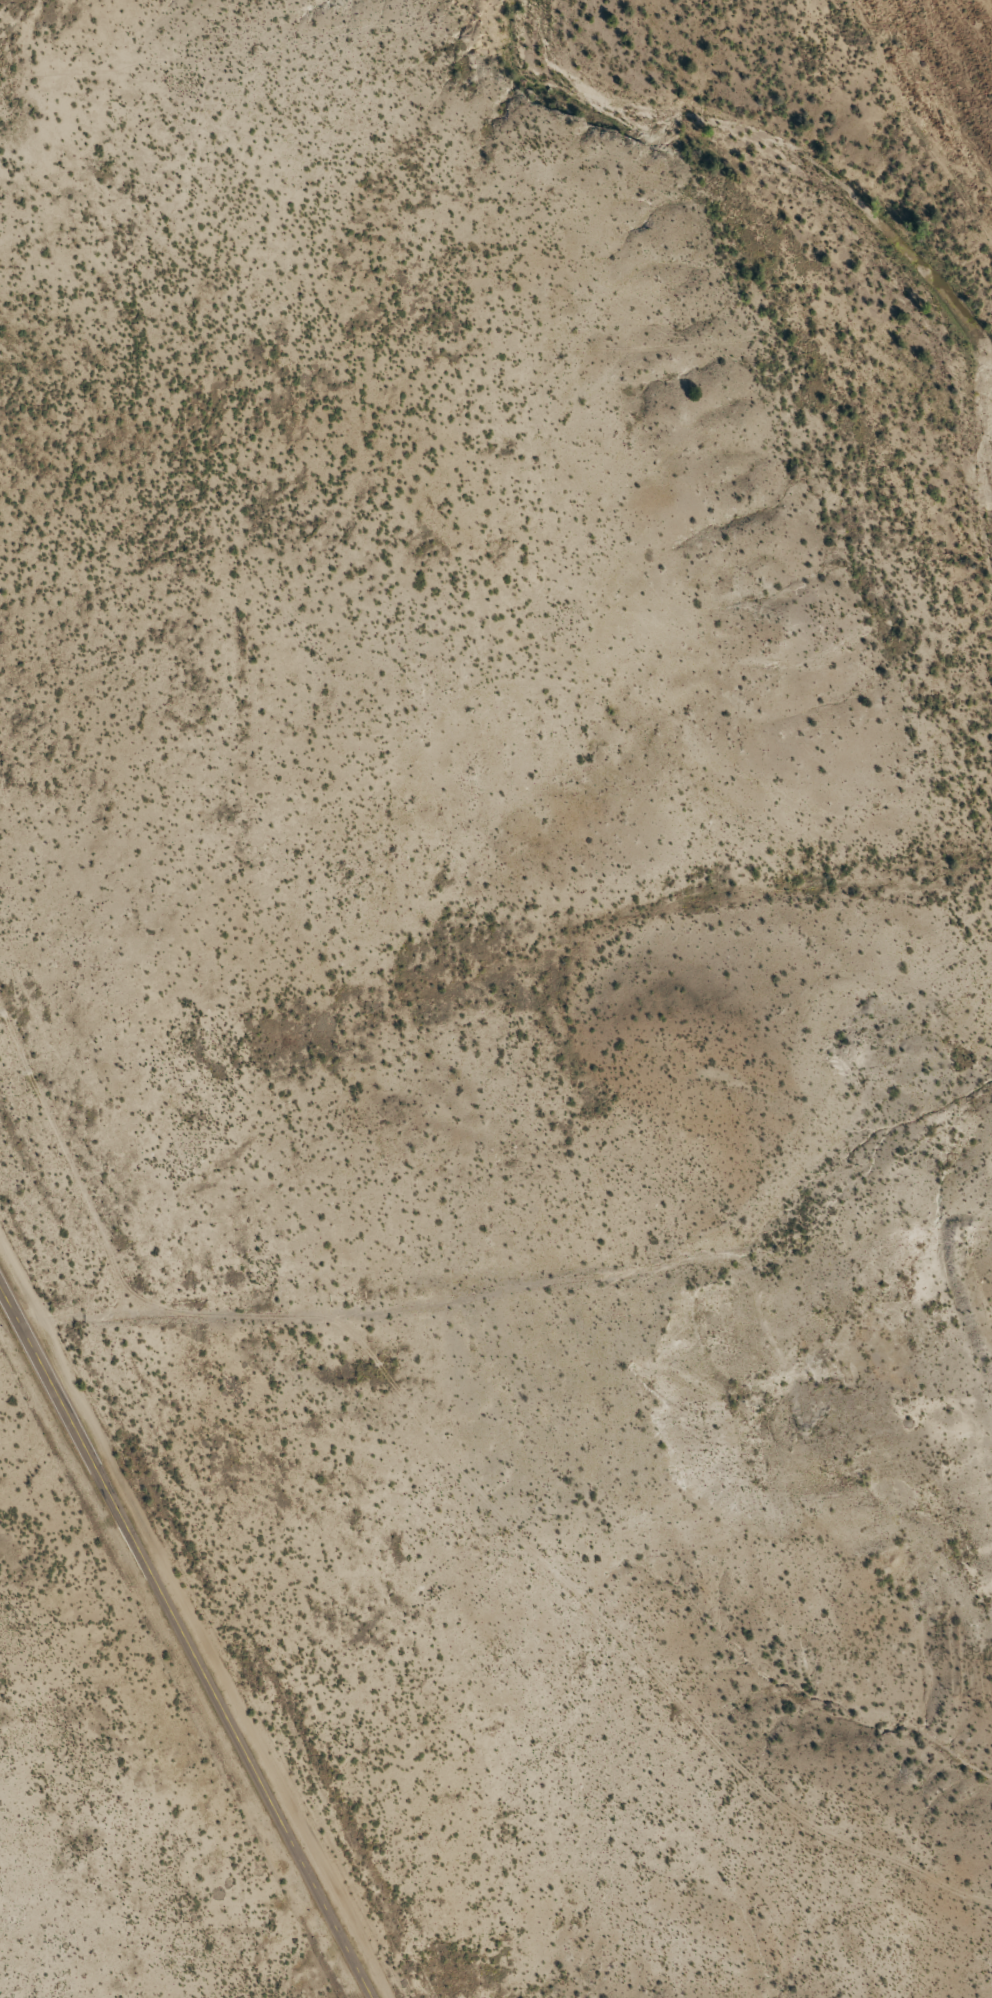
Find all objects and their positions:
road: (913, 146)
road: (187, 1640)

